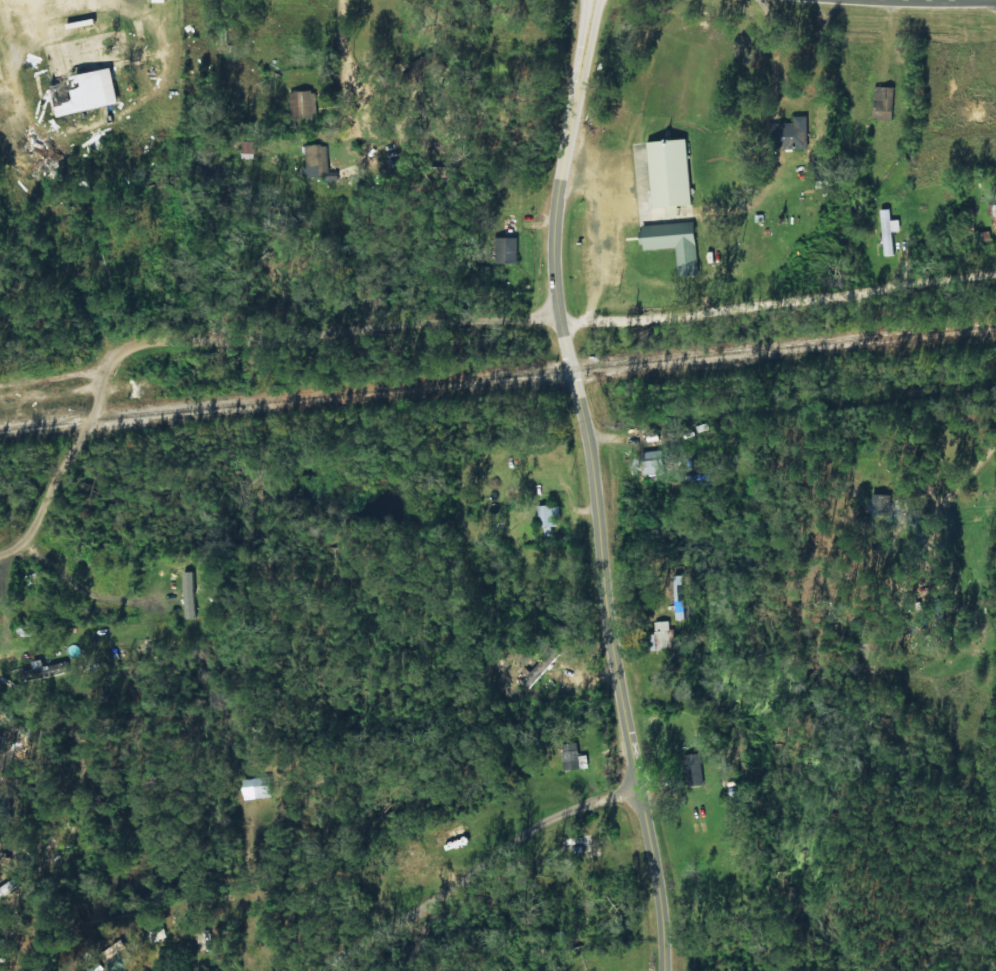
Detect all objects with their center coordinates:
road: (354, 48)
building: (423, 68)
building: (83, 91)
building: (882, 103)
building: (302, 104)
building: (788, 133)
building: (247, 149)
building: (315, 162)
building: (668, 174)
building: (992, 214)
building: (888, 231)
building: (673, 243)
building: (504, 250)
road: (425, 320)
railway: (498, 378)
road: (591, 484)
building: (878, 503)
building: (547, 518)
building: (676, 610)
building: (657, 635)
building: (537, 670)
building: (40, 672)
road: (991, 686)
building: (572, 757)
building: (692, 769)
building: (252, 786)
building: (453, 832)
building: (438, 839)
road: (463, 884)
building: (155, 933)
building: (119, 963)

